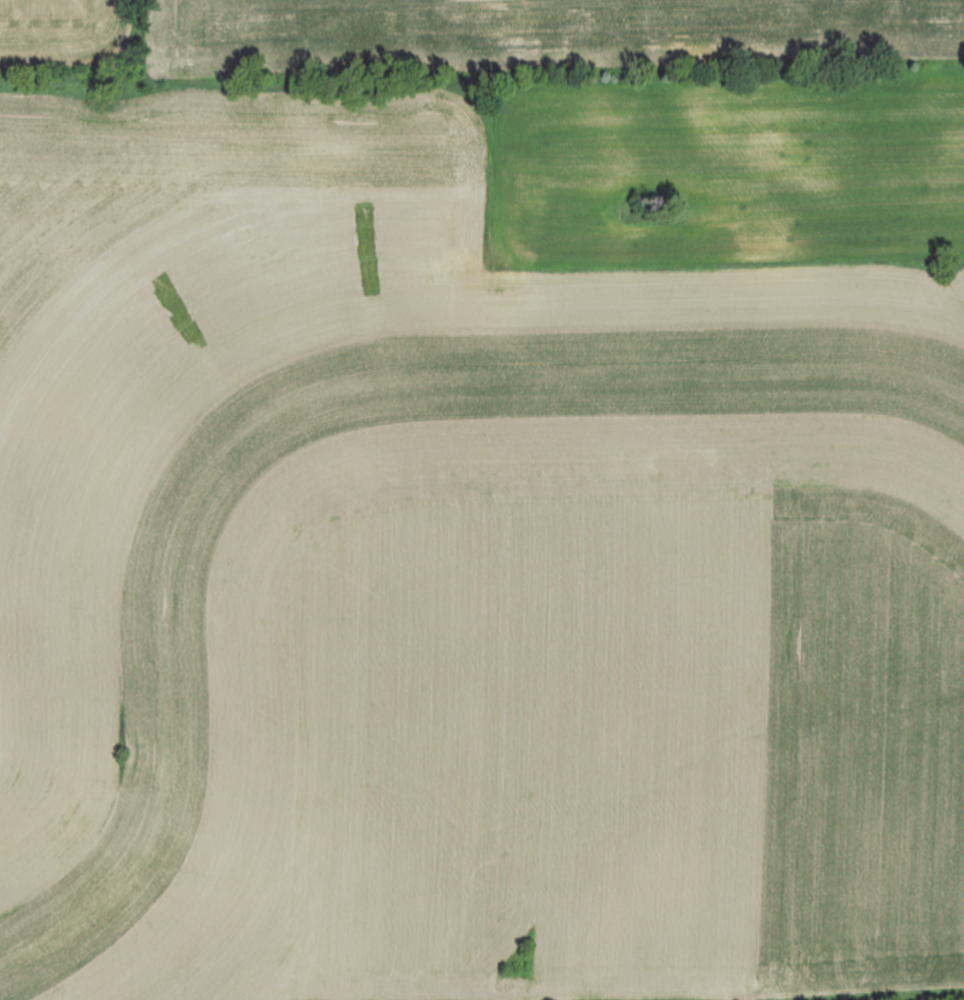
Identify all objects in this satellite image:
crop: (482, 500)

